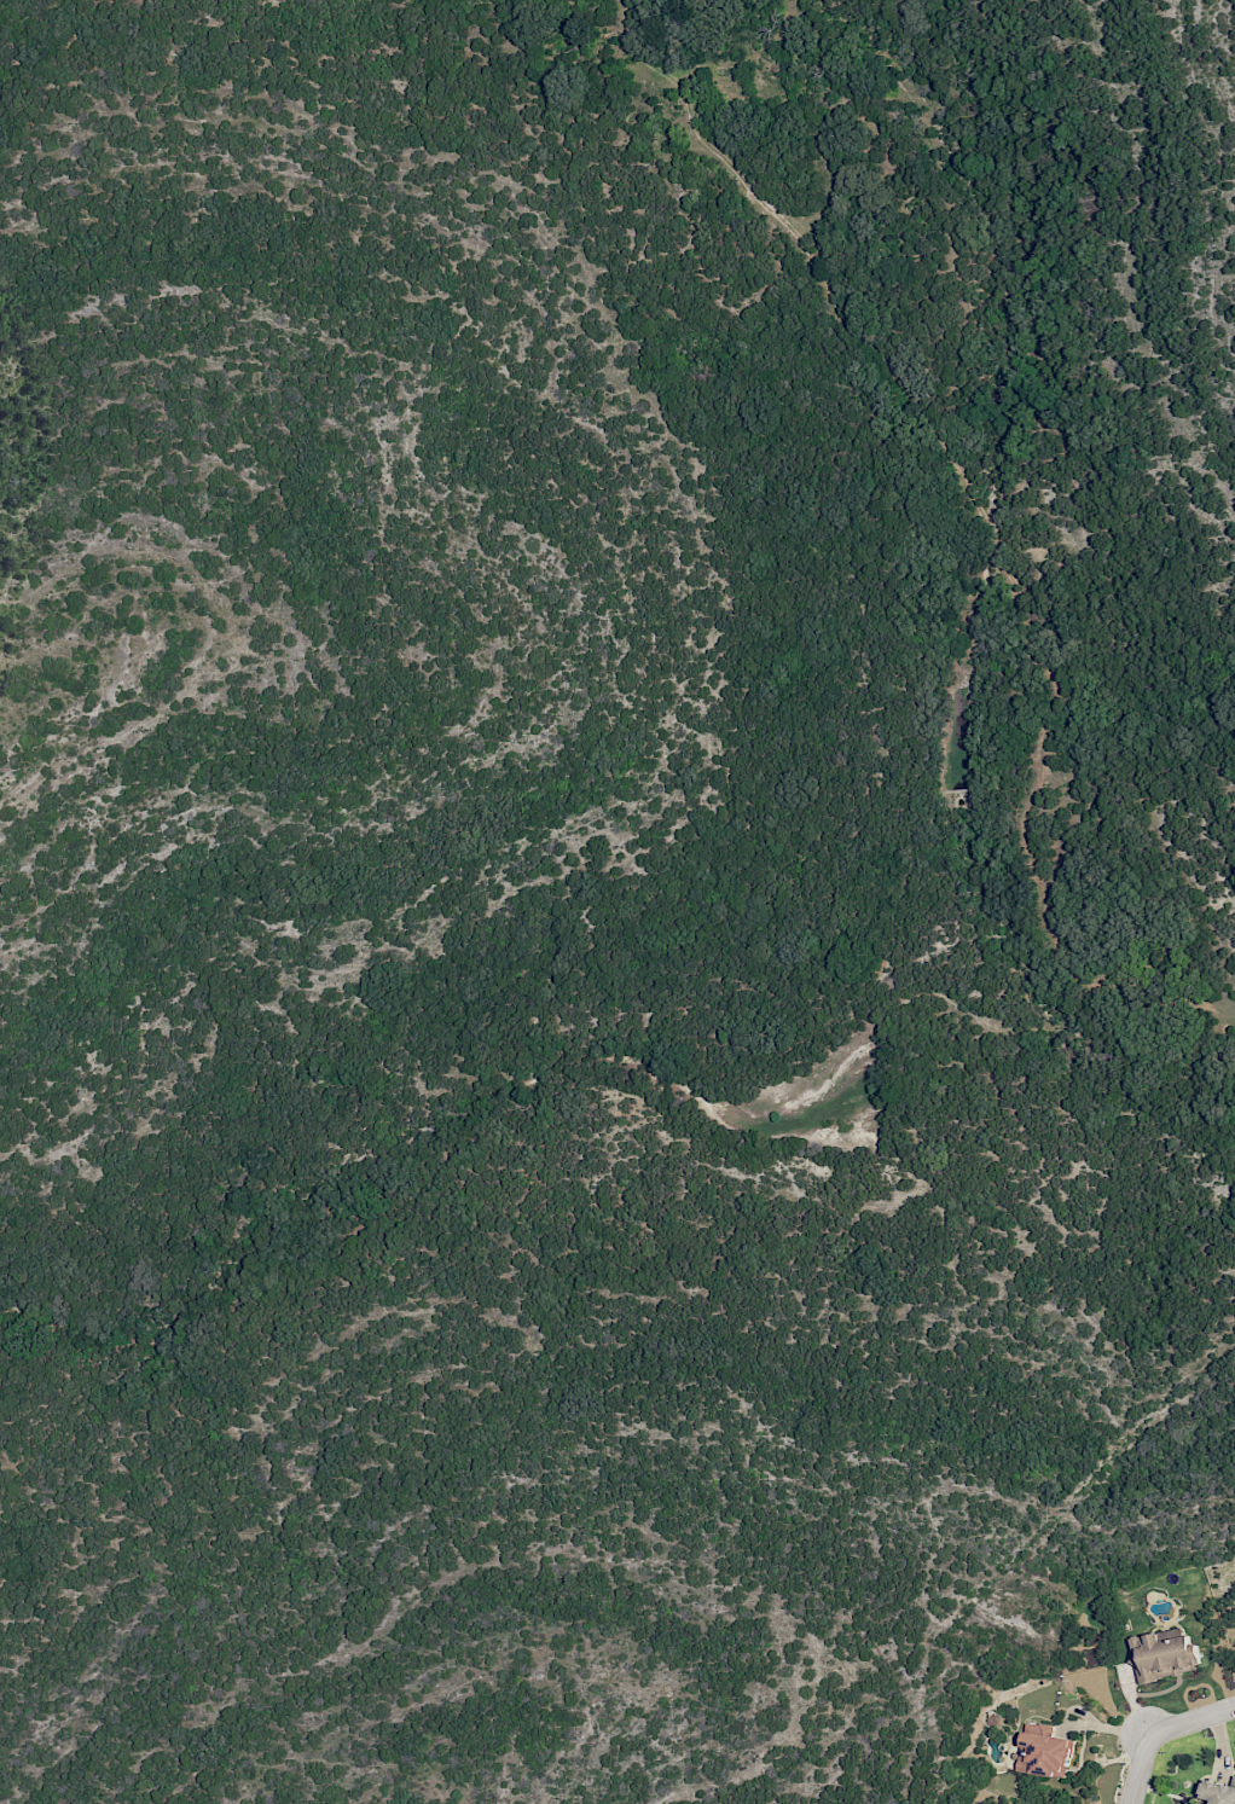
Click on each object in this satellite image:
building: (1162, 1654)
road: (1158, 1732)
building: (1045, 1751)
building: (1218, 1792)

